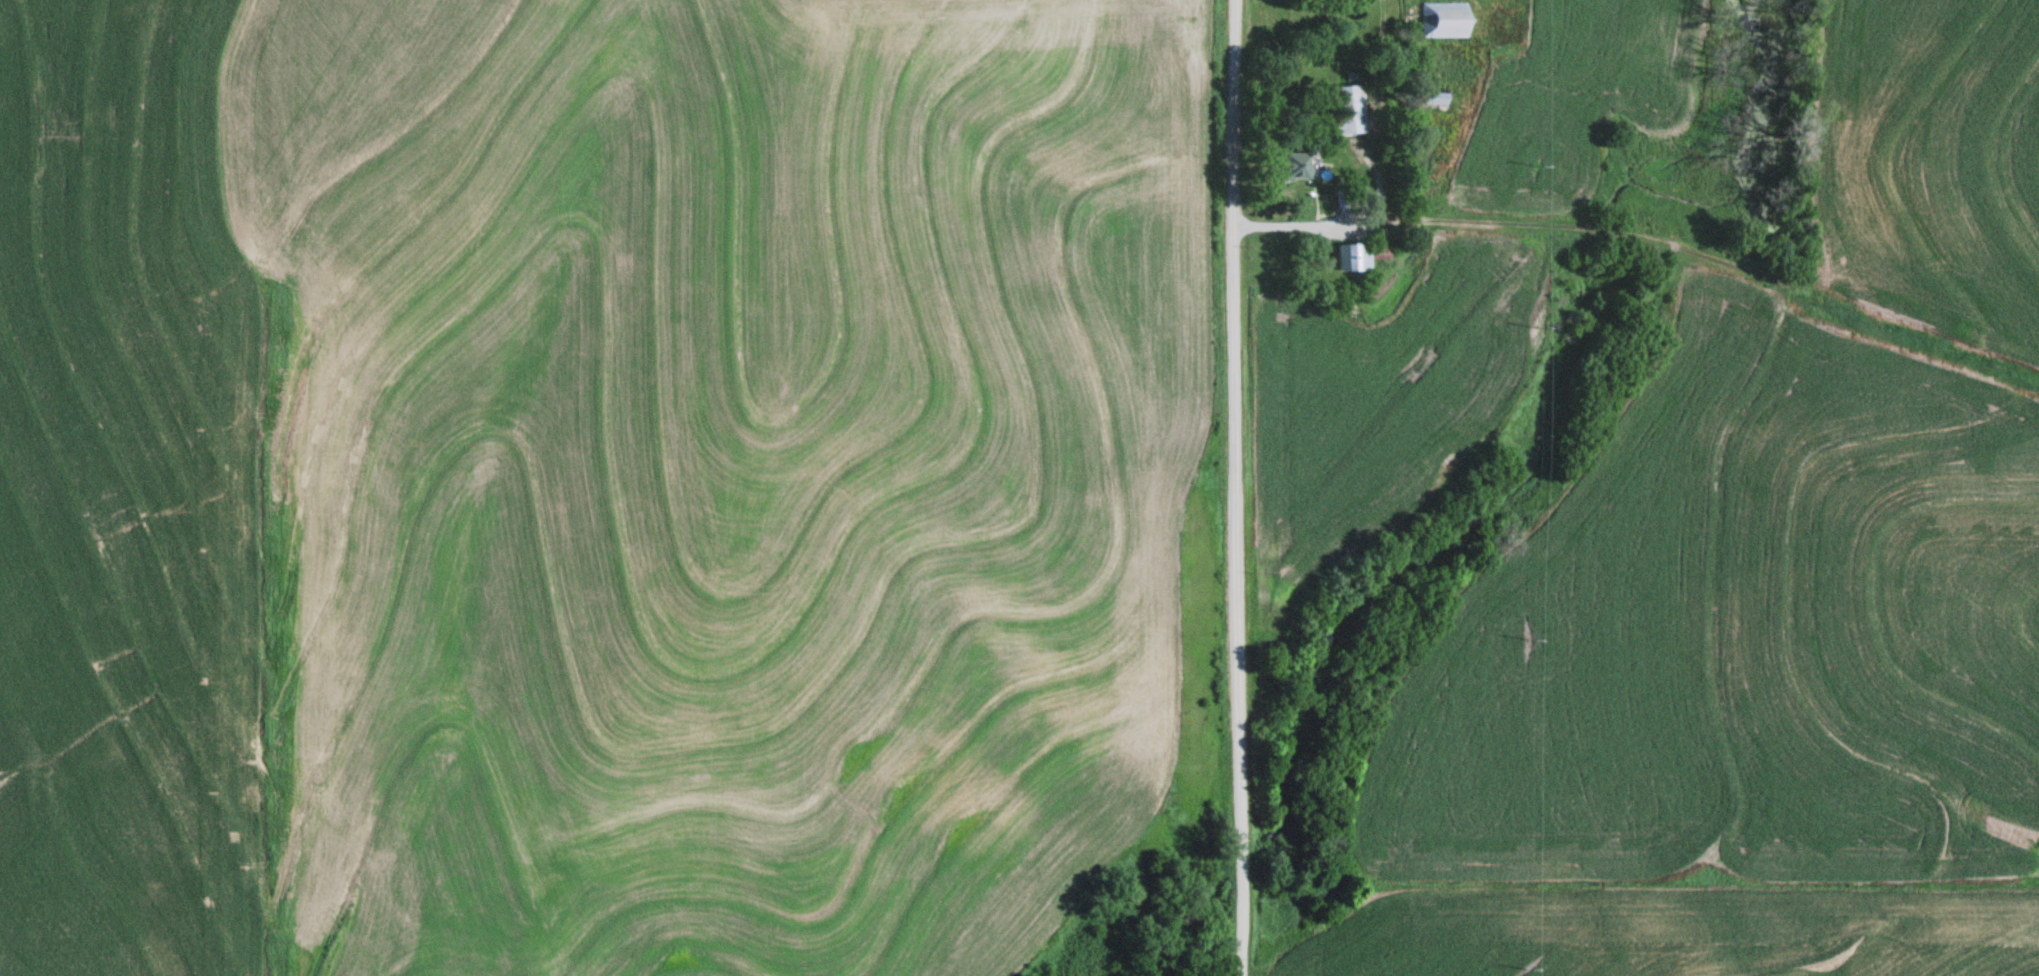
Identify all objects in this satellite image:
building: (1449, 18)
road: (1232, 487)

